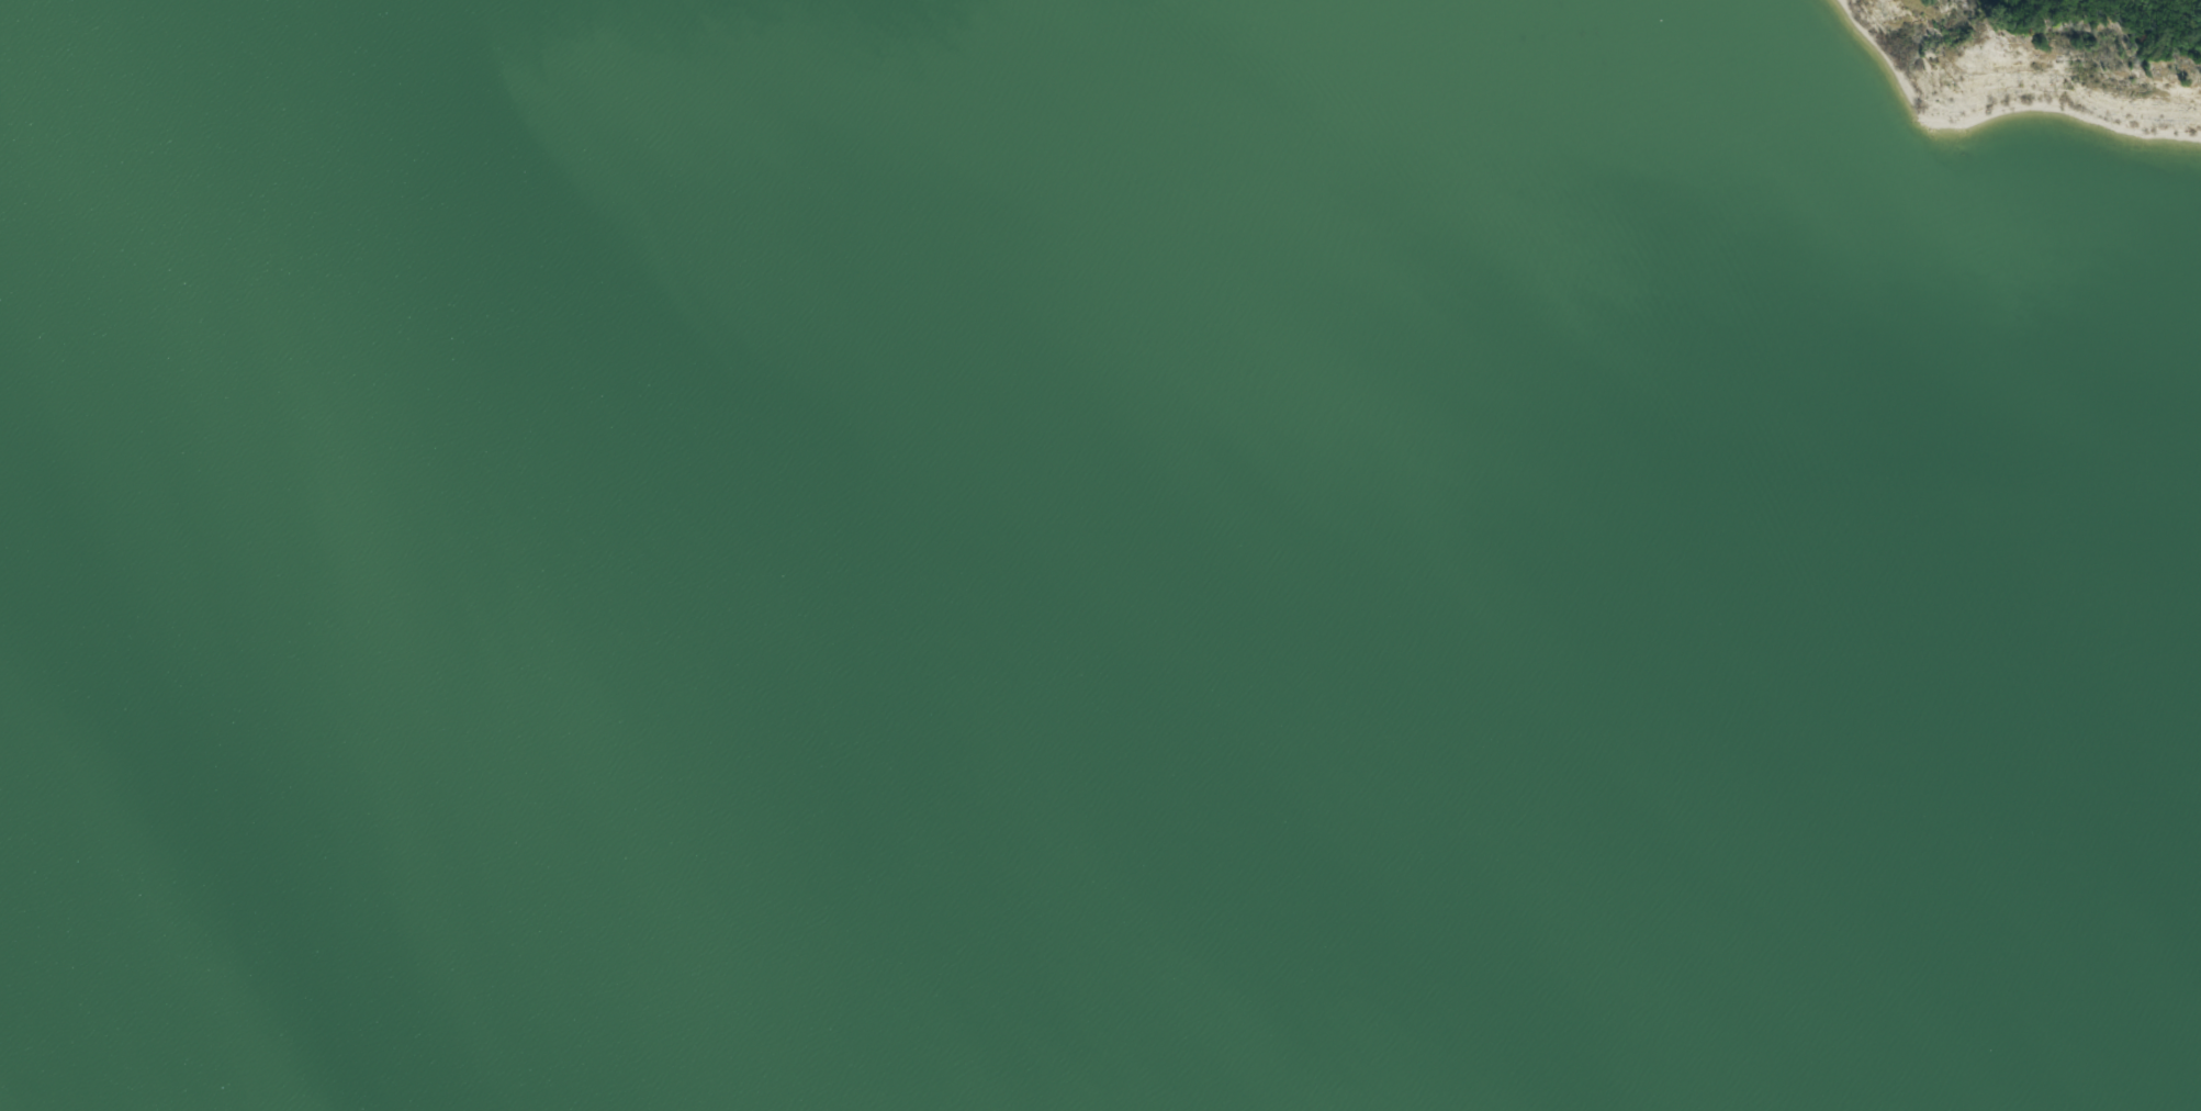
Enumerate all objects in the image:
river: (468, 792)

